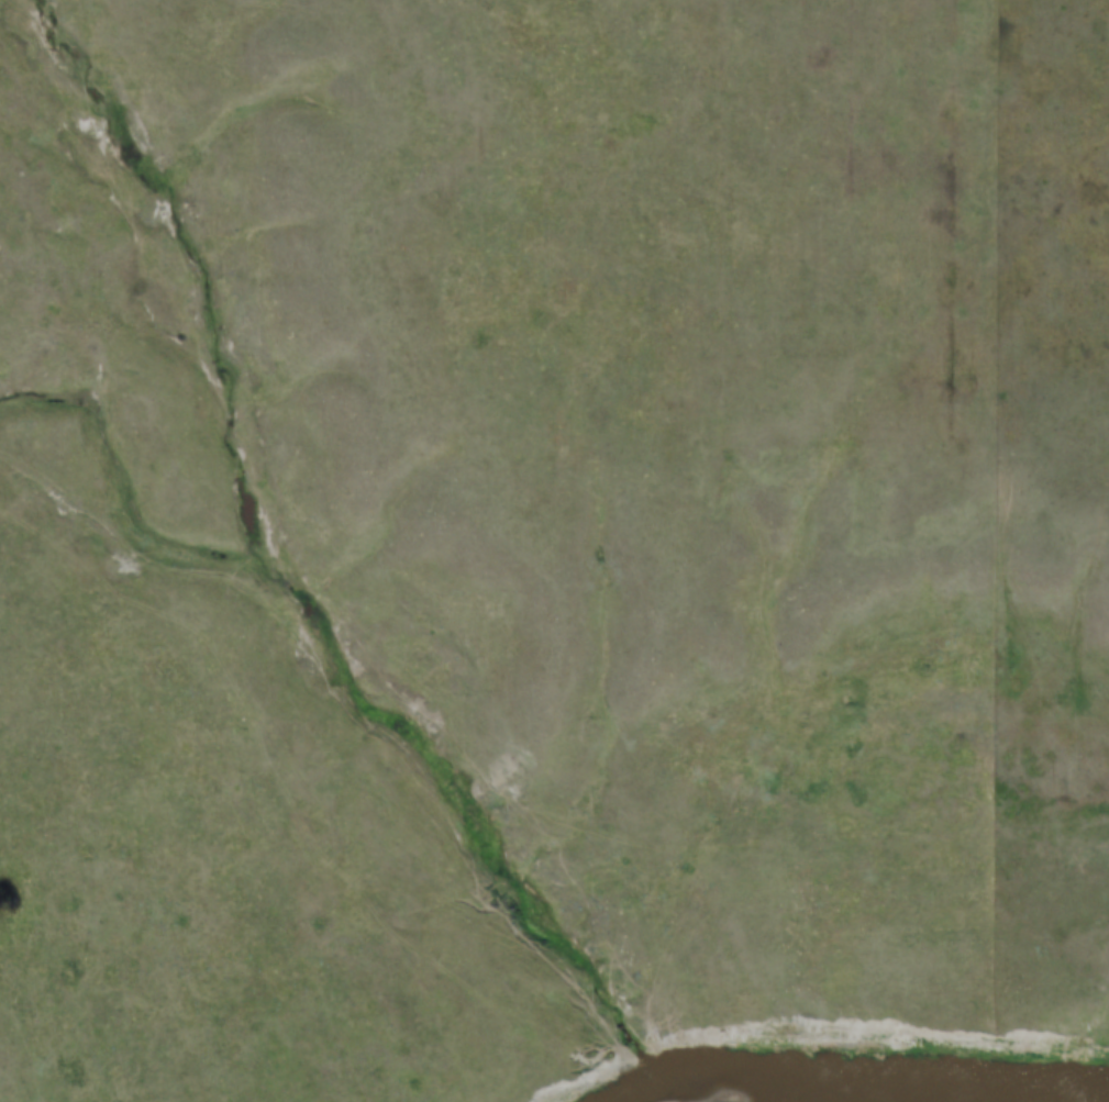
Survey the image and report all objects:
river: (795, 1079)

